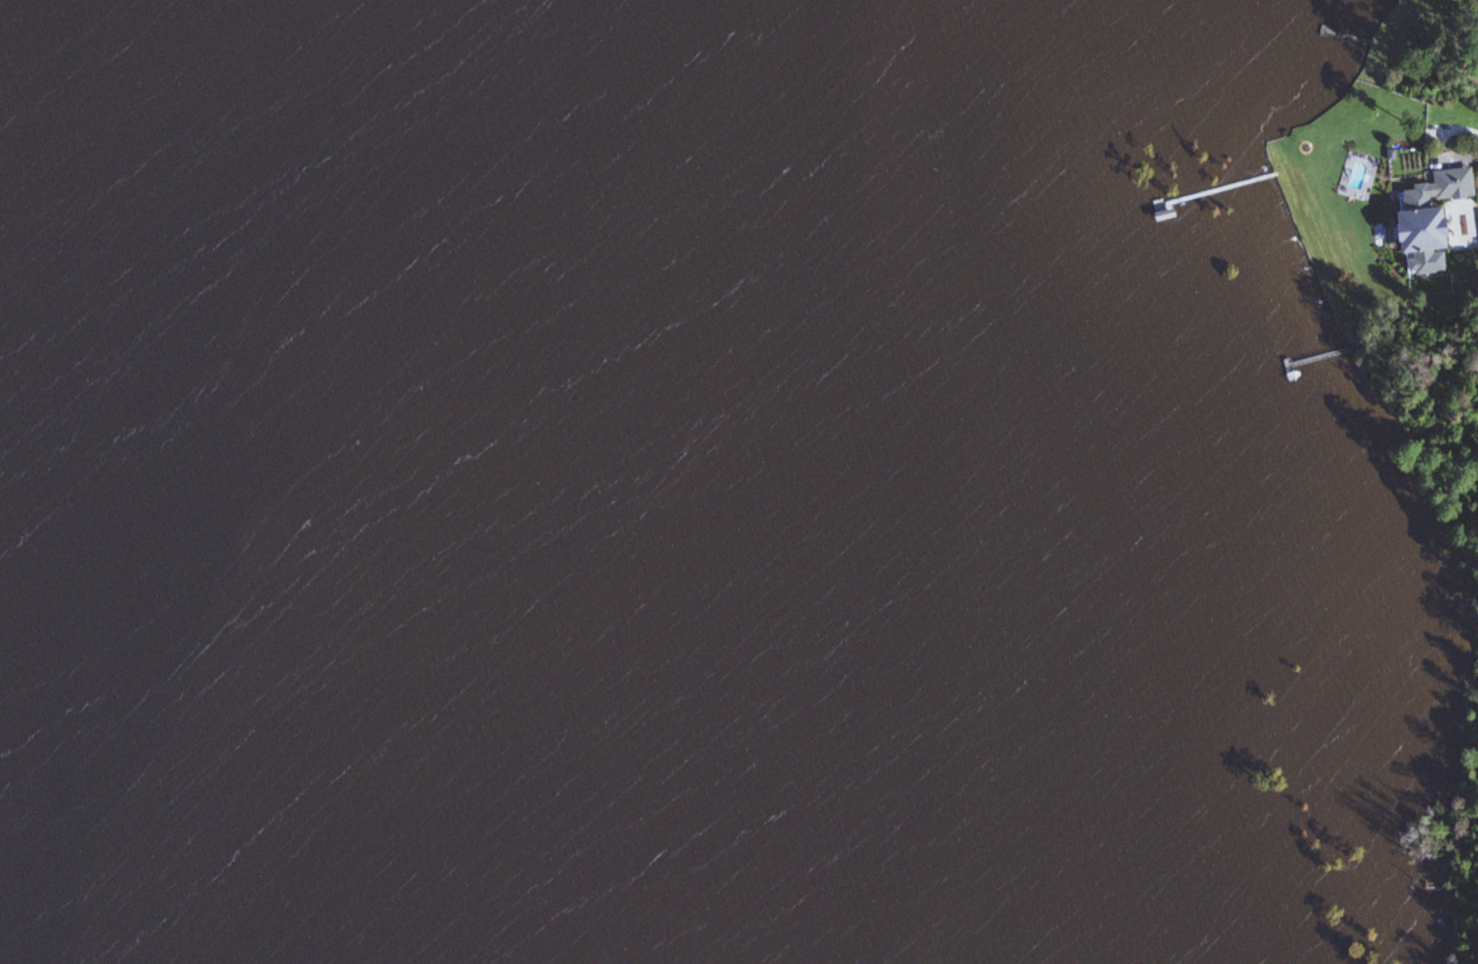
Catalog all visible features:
building: (1433, 220)

